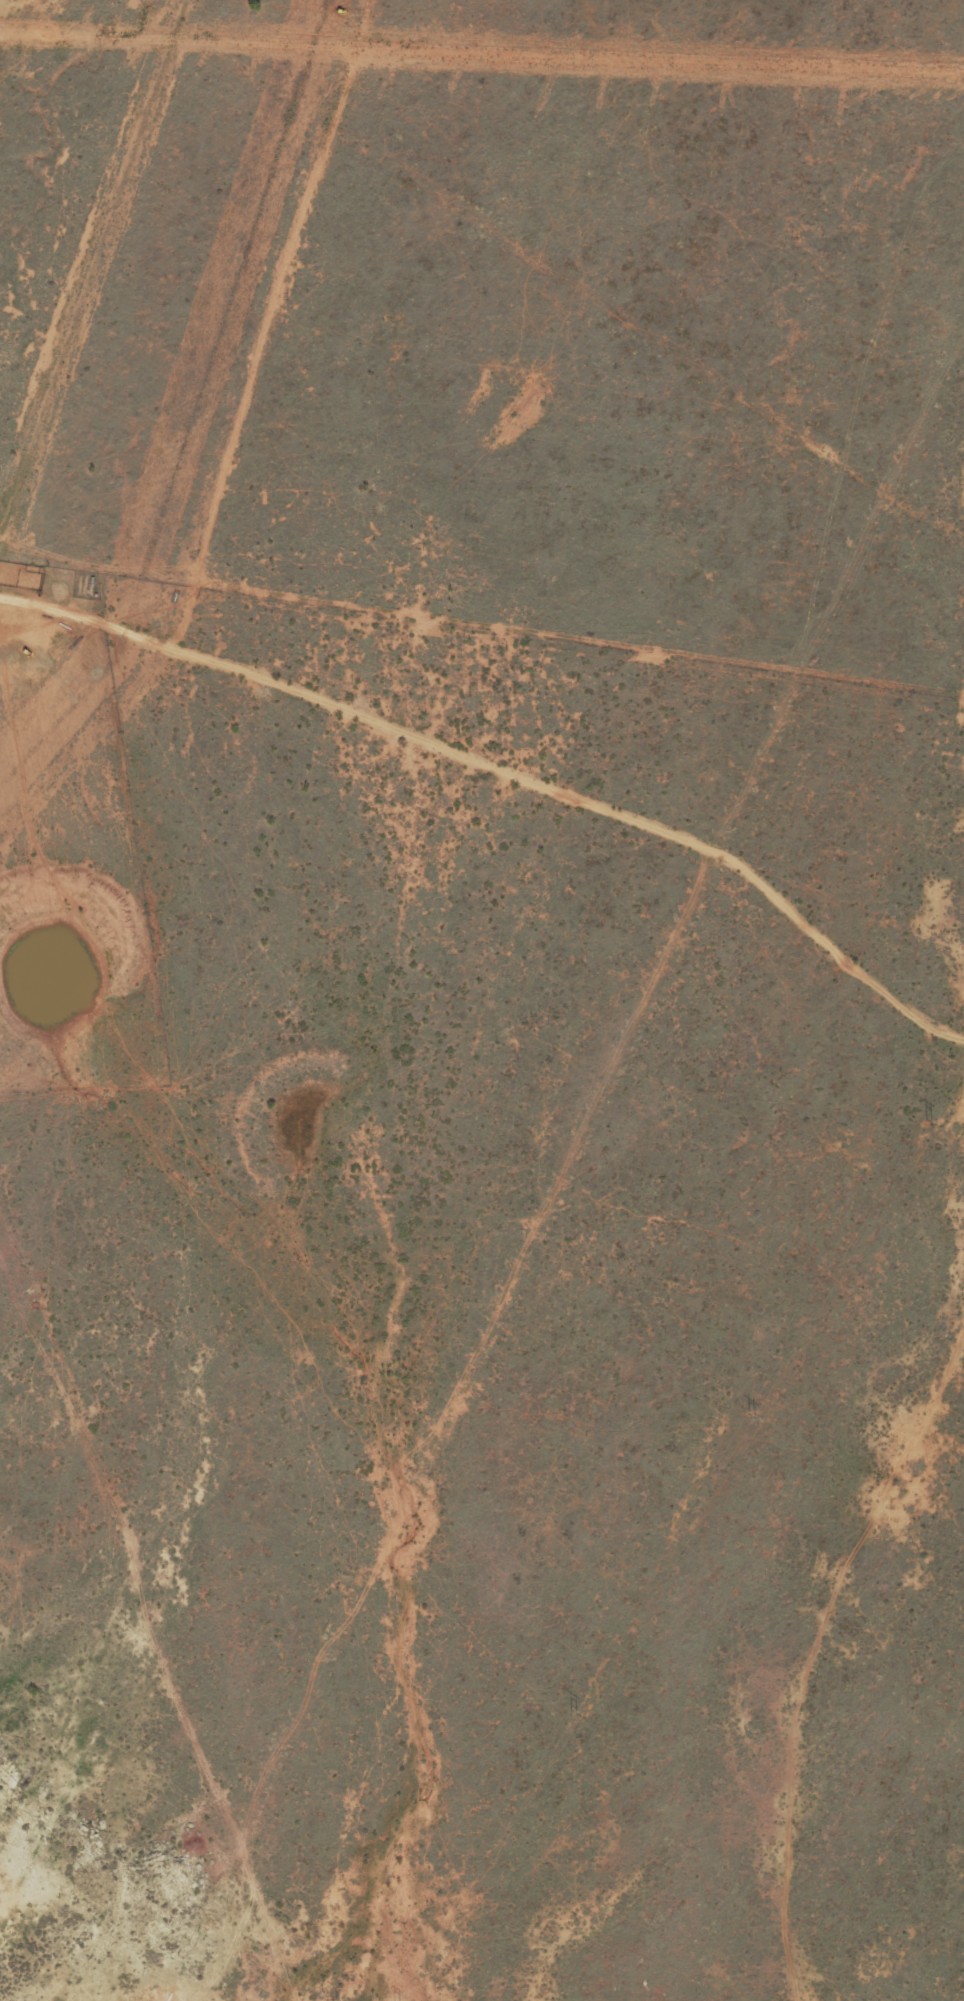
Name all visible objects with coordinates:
road: (495, 810)
power tower: (924, 1123)
power tower: (749, 1416)
power tower: (569, 1712)
road: (40, 1979)

